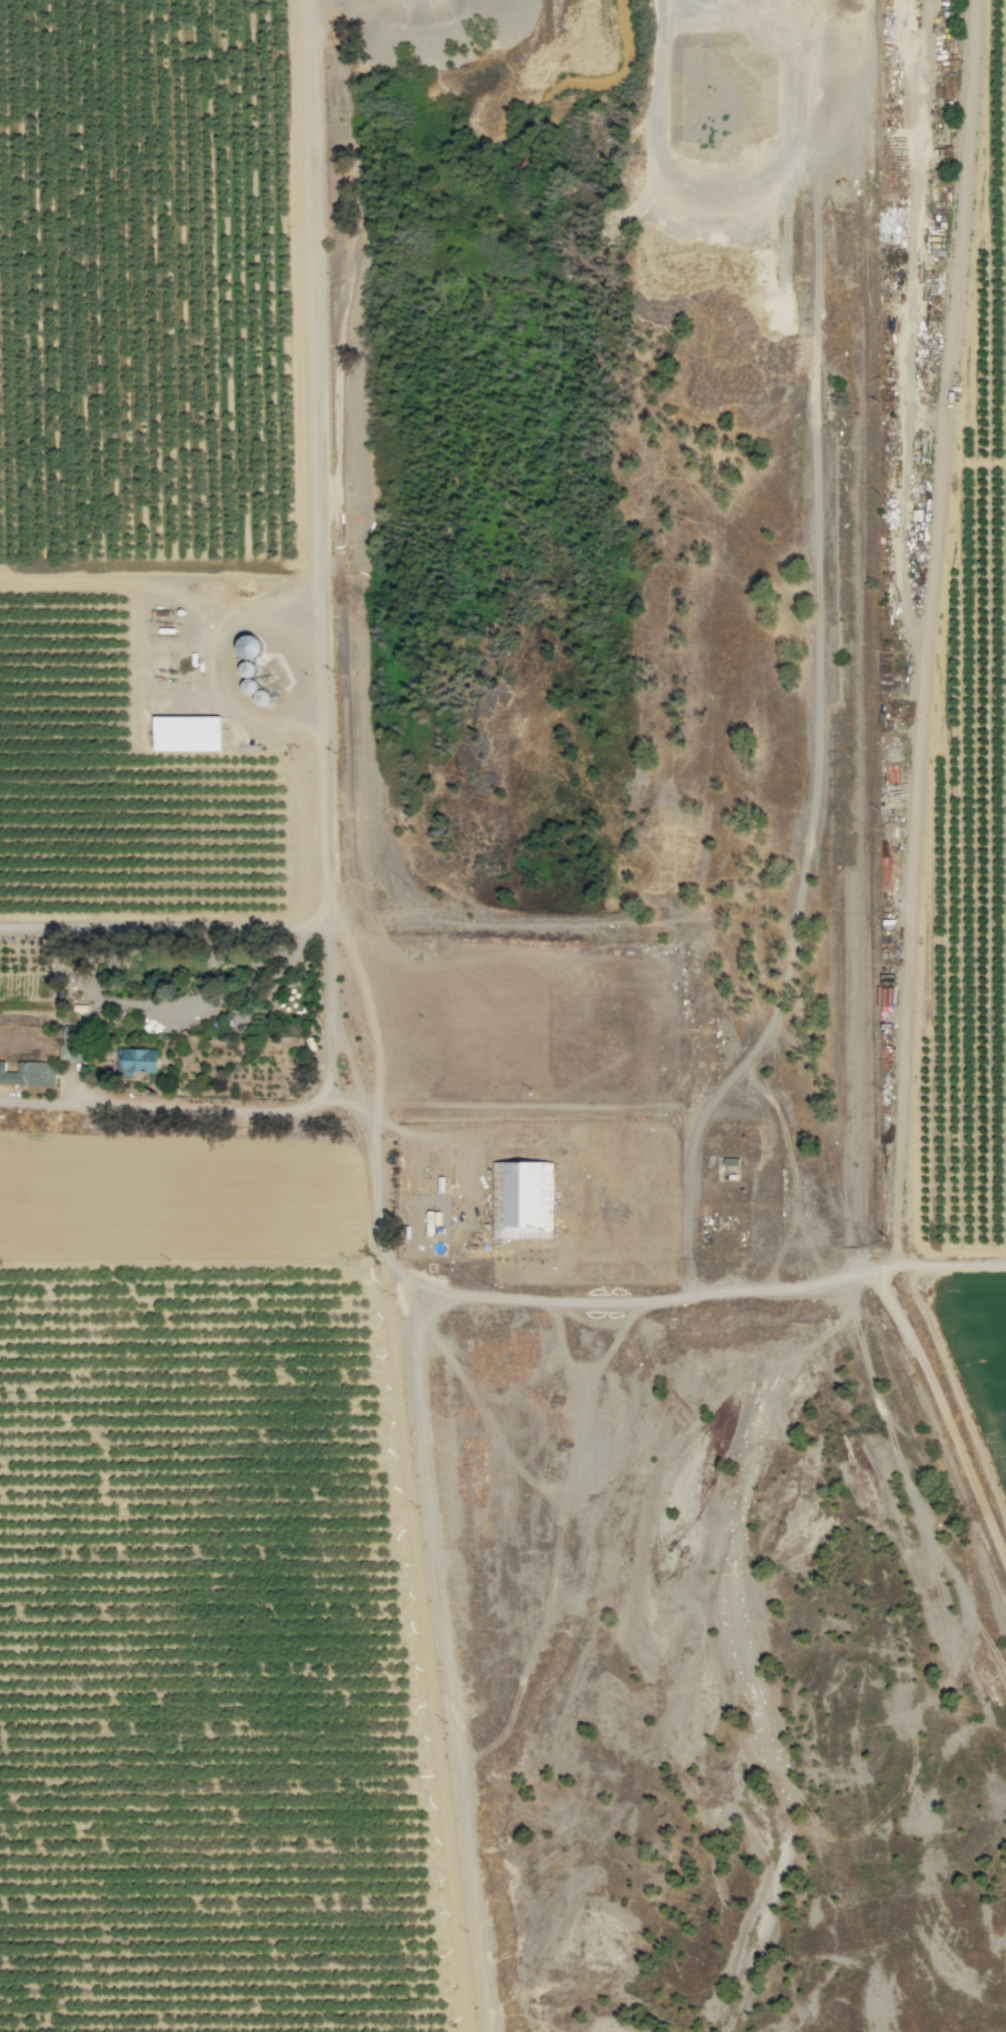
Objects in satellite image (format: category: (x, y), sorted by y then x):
quarry: (701, 150)
road: (322, 463)
building: (188, 733)
road: (166, 927)
building: (139, 1061)
building: (30, 1074)
road: (249, 1112)
building: (523, 1201)
road: (522, 1298)

